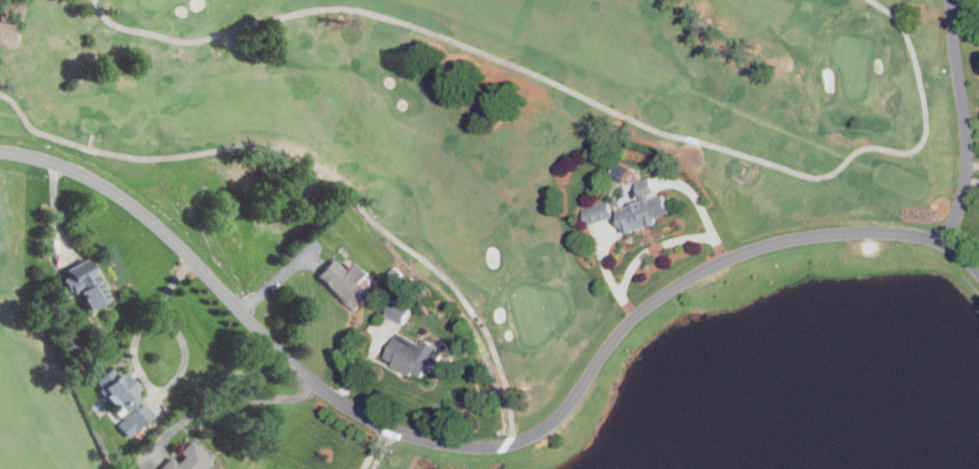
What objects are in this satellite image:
park: (156, 4)
park: (853, 60)
road: (584, 93)
road: (961, 121)
park: (459, 148)
road: (321, 166)
building: (641, 206)
building: (595, 211)
road: (56, 212)
road: (653, 246)
road: (279, 276)
building: (84, 281)
building: (345, 281)
park: (535, 309)
building: (400, 311)
building: (413, 353)
road: (142, 372)
building: (125, 399)
road: (221, 400)
road: (484, 443)
road: (372, 447)
road: (381, 448)
building: (188, 457)

